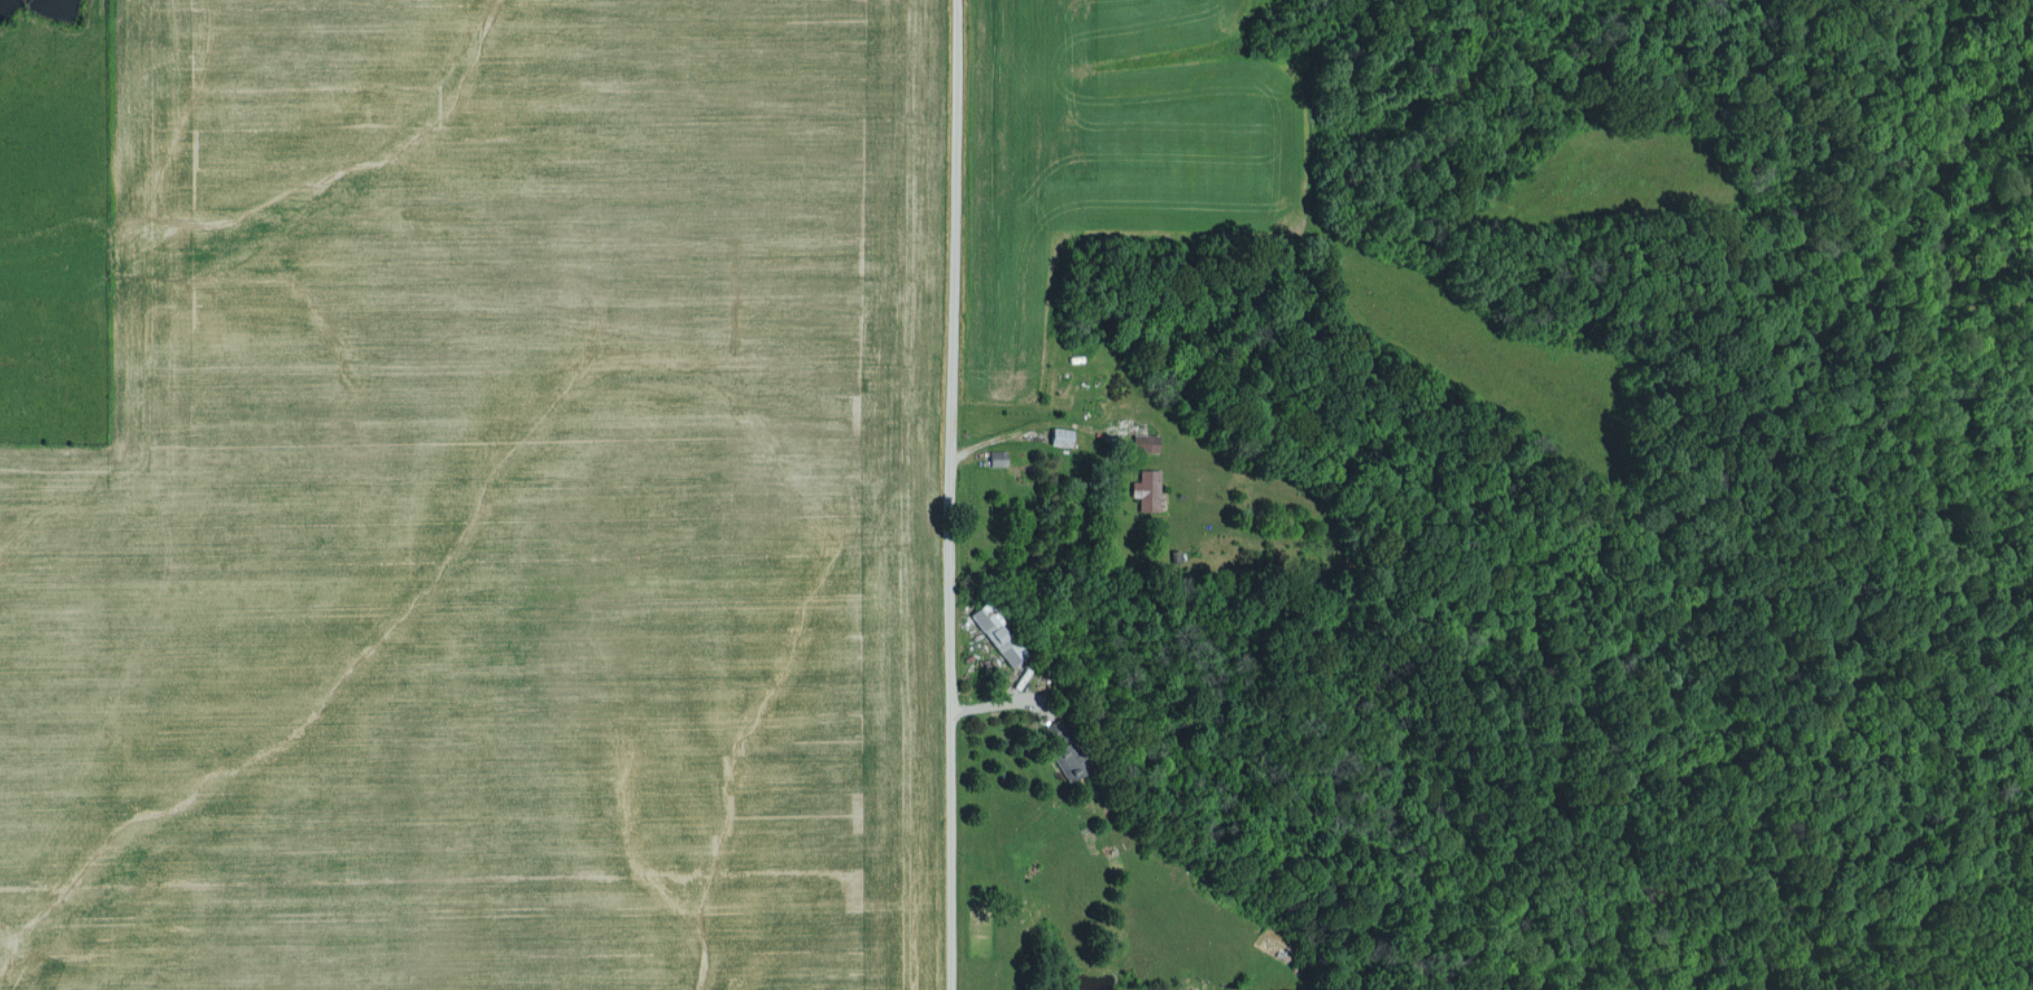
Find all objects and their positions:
building: (1060, 436)
building: (1144, 442)
building: (997, 457)
building: (1147, 489)
road: (954, 495)
building: (997, 634)
building: (1056, 732)
building: (1069, 761)

